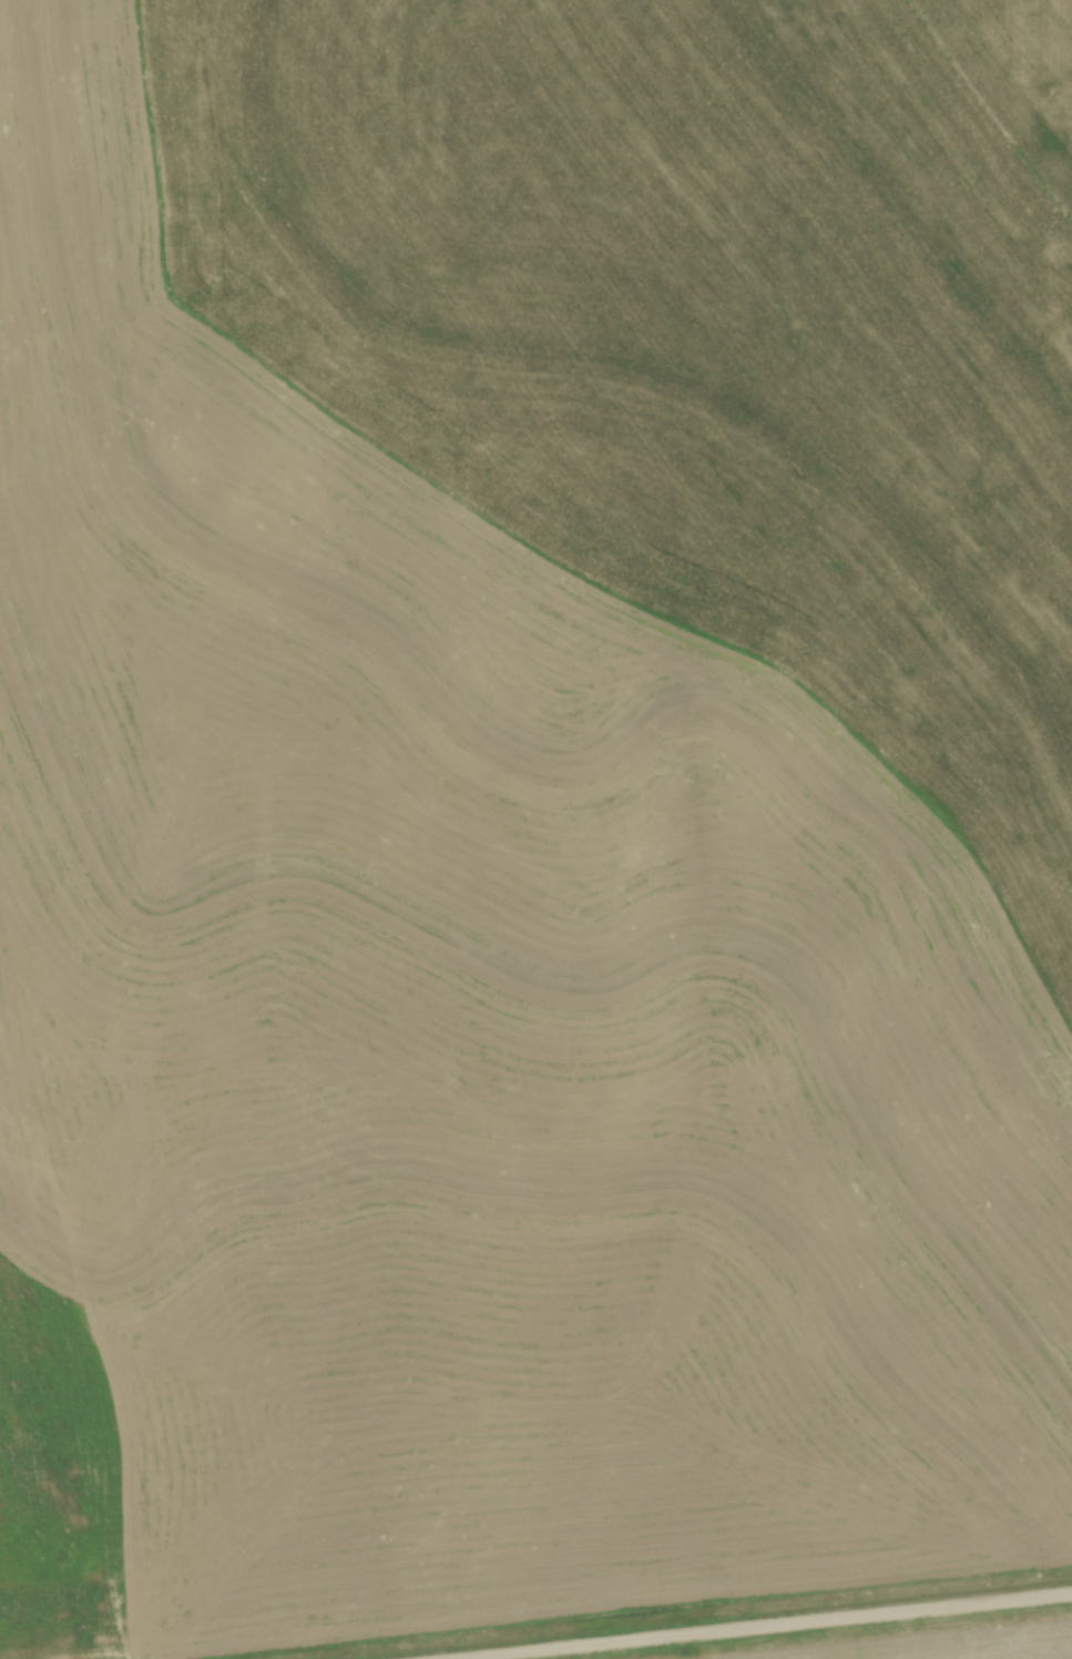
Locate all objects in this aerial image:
road: (777, 1625)

